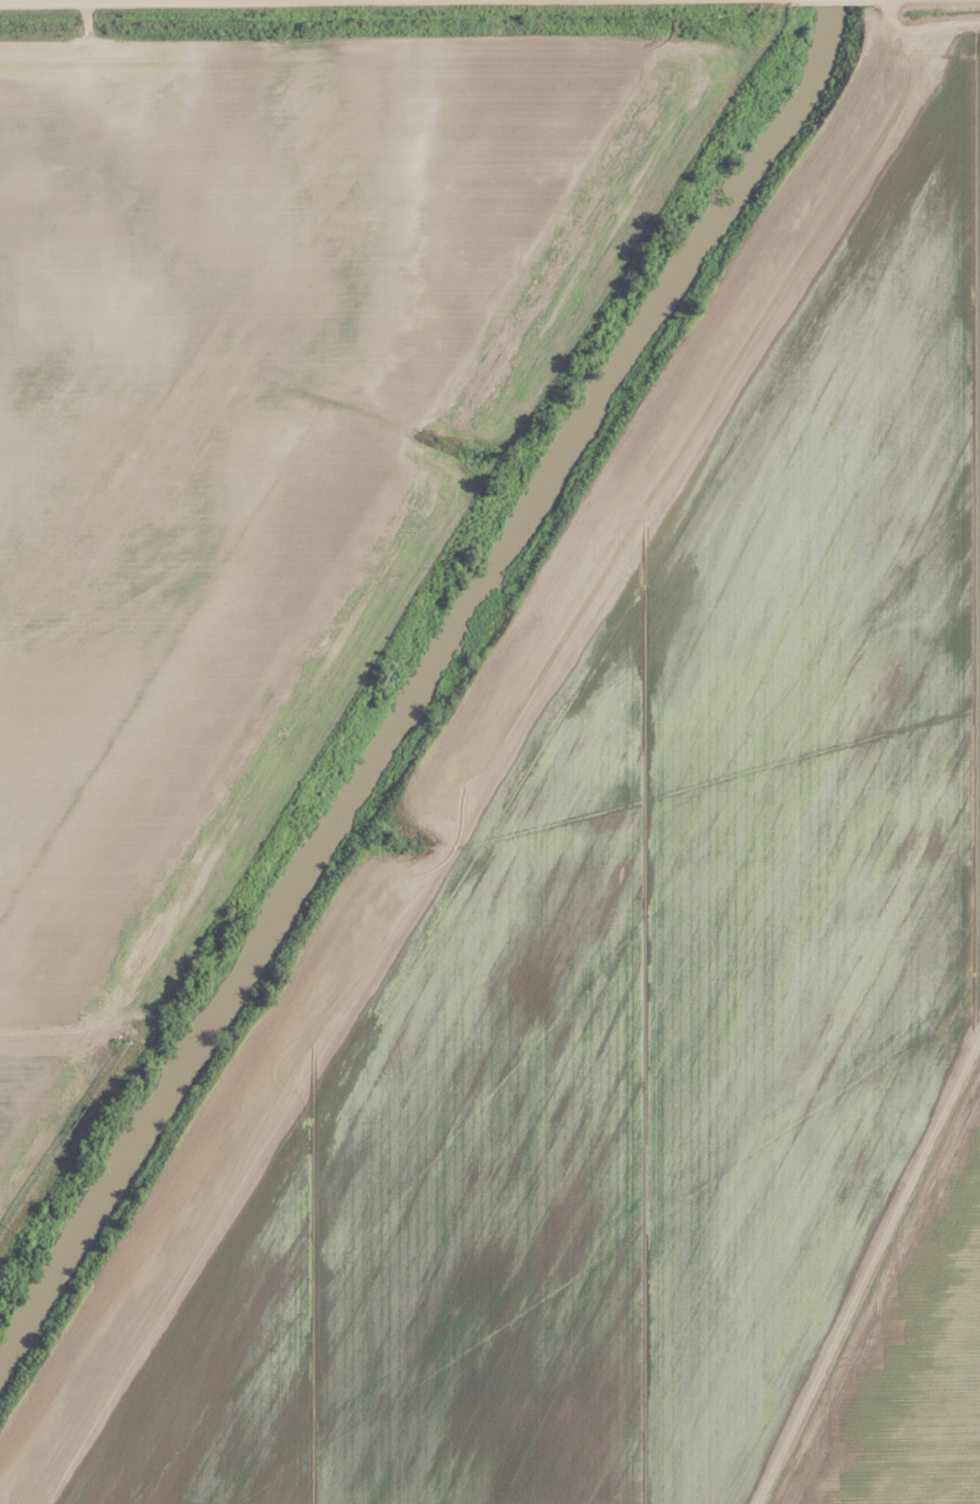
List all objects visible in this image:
road: (34, 0)

